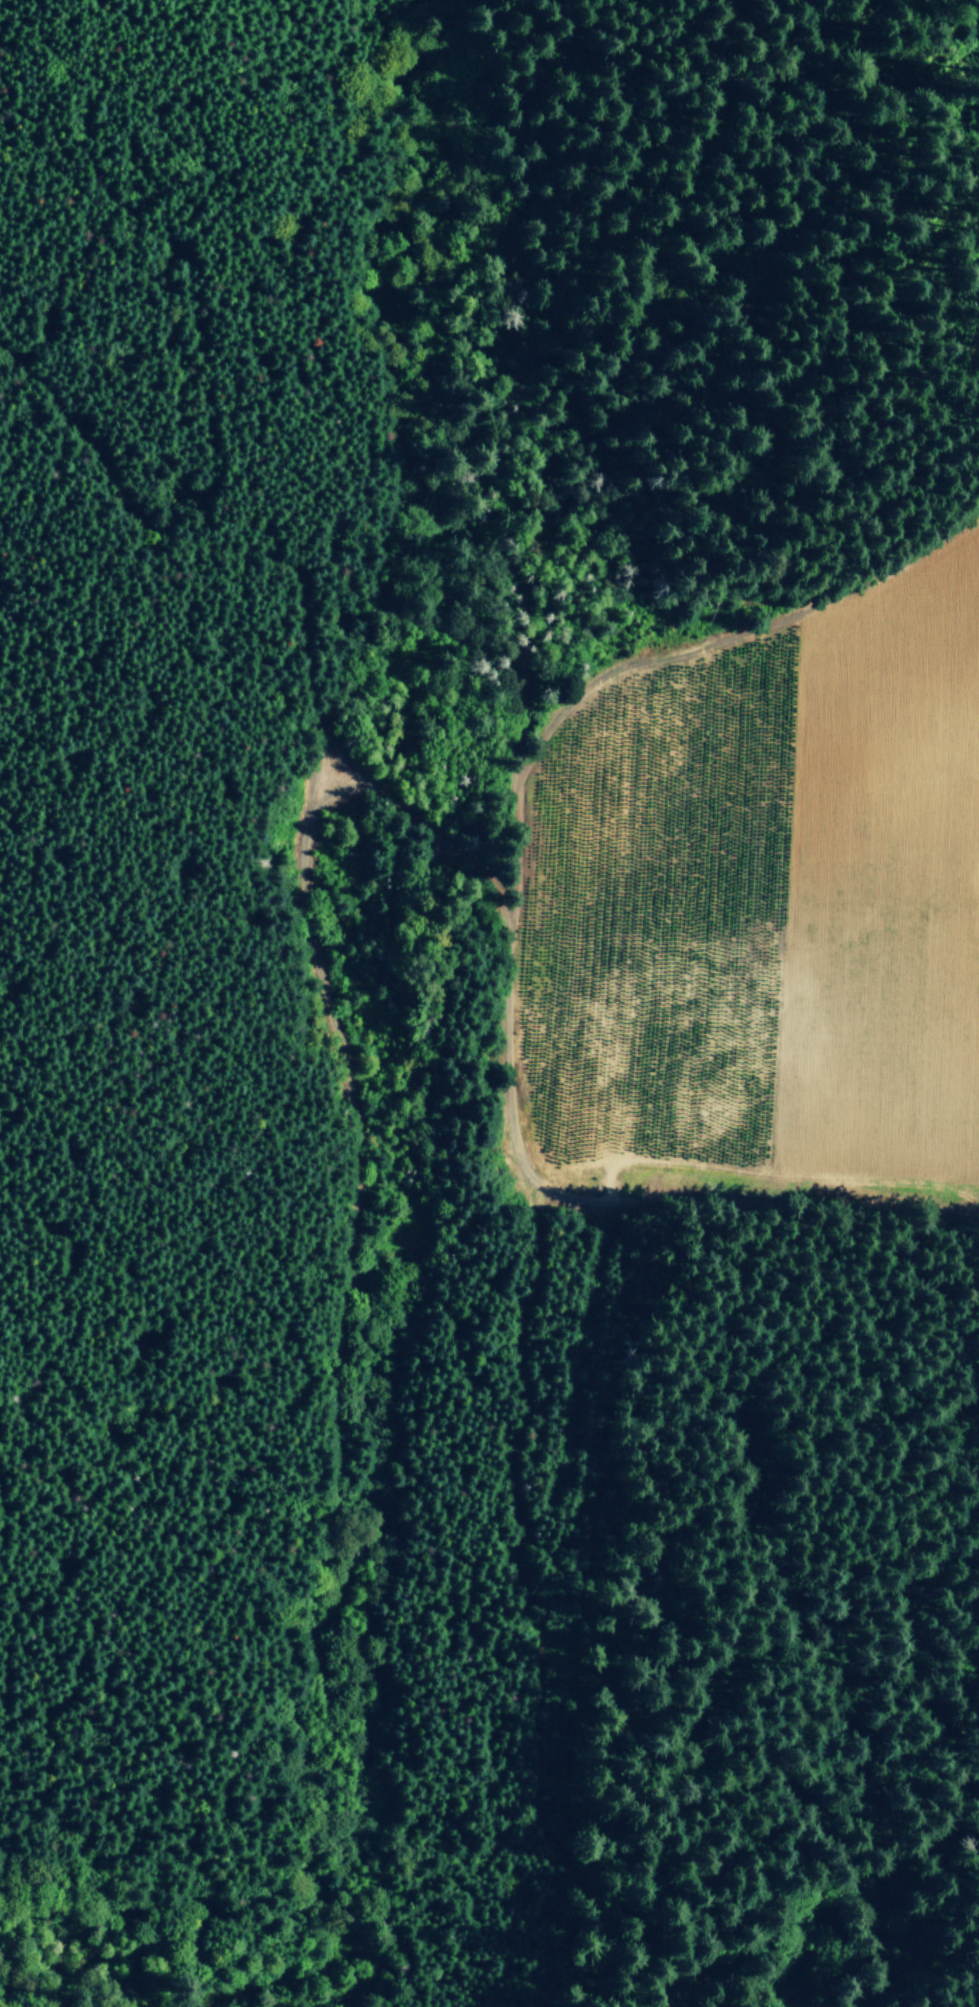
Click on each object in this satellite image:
crop: (765, 887)

